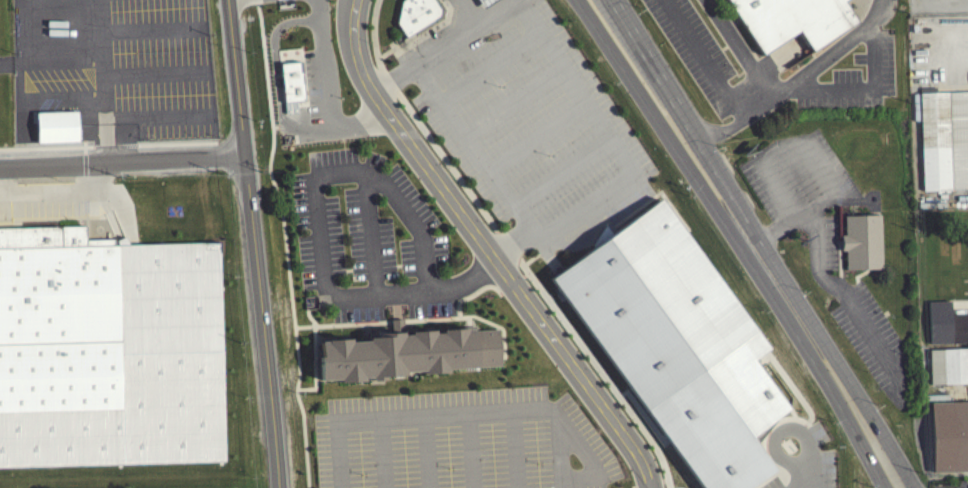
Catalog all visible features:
building: (484, 4)
power substation: (937, 5)
building: (416, 16)
road: (311, 18)
road: (484, 20)
building: (793, 20)
parking lot: (697, 49)
road: (741, 49)
road: (424, 56)
road: (652, 56)
road: (101, 57)
road: (705, 59)
road: (328, 73)
building: (292, 79)
road: (793, 83)
road: (277, 97)
building: (55, 131)
road: (367, 131)
building: (943, 144)
road: (623, 156)
road: (122, 158)
road: (341, 173)
road: (828, 182)
road: (784, 198)
road: (414, 223)
parking lot: (370, 240)
parking lot: (824, 241)
building: (862, 241)
road: (730, 242)
road: (252, 243)
road: (287, 243)
road: (511, 247)
road: (487, 249)
road: (785, 268)
road: (416, 289)
road: (473, 295)
road: (847, 297)
road: (416, 318)
building: (58, 319)
building: (945, 329)
building: (676, 342)
building: (409, 353)
road: (317, 366)
building: (946, 370)
road: (470, 416)
building: (949, 435)
parking lot: (462, 440)
road: (558, 449)
road: (514, 451)
road: (427, 452)
road: (470, 452)
road: (383, 454)
road: (899, 456)
parking lot: (951, 485)

